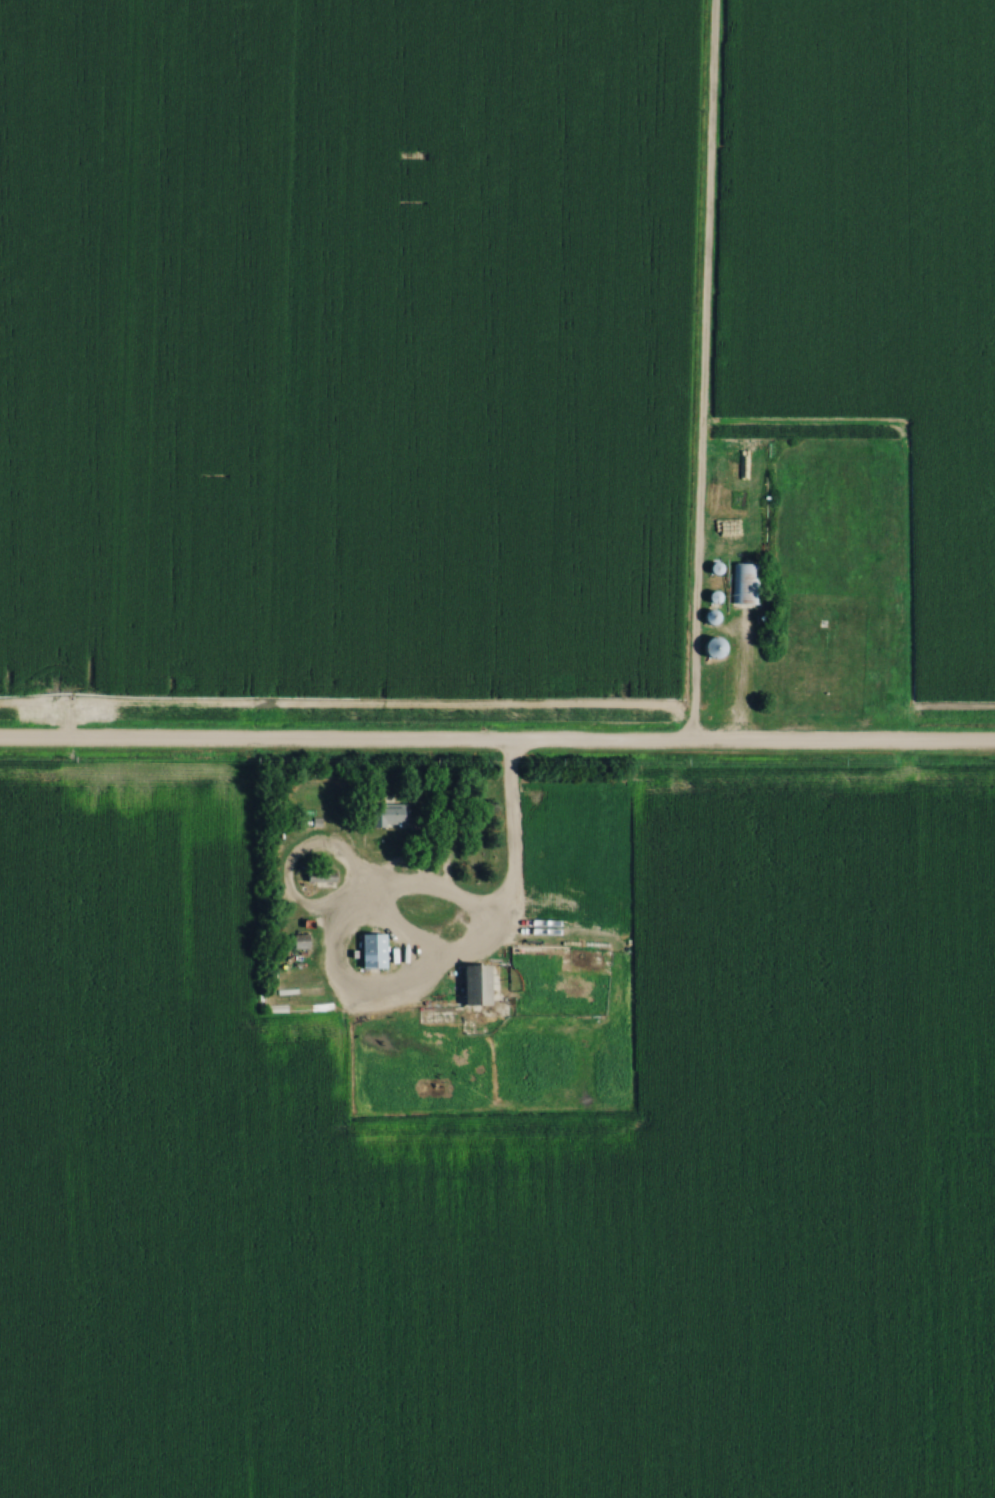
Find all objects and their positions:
road: (702, 373)
building: (743, 585)
building: (707, 618)
building: (709, 648)
road: (741, 683)
road: (497, 745)
building: (383, 814)
road: (510, 836)
building: (318, 876)
building: (298, 941)
building: (370, 951)
building: (471, 984)
road: (380, 987)

